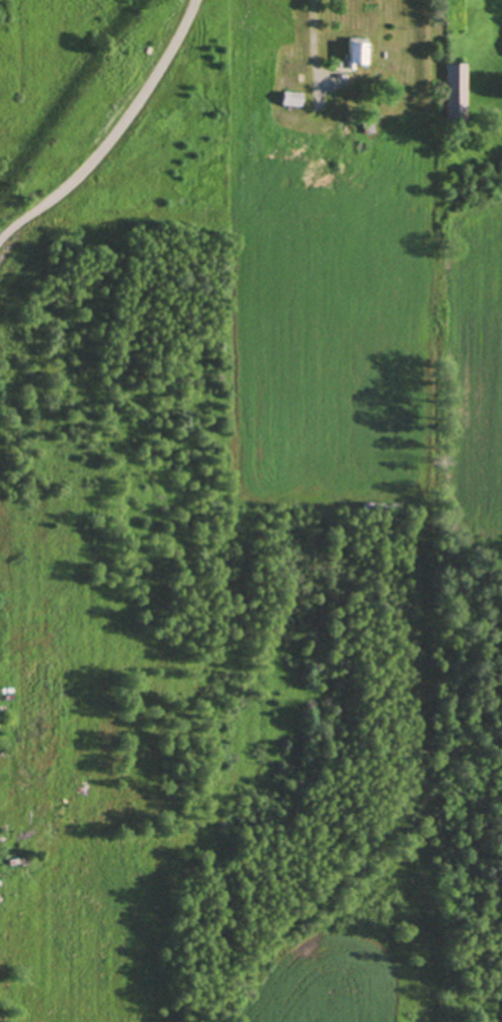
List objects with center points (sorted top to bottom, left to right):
building: (355, 51)
building: (454, 91)
building: (290, 98)
building: (347, 127)
building: (367, 127)
road: (114, 134)
building: (349, 157)
building: (329, 176)
building: (379, 507)
building: (14, 860)

